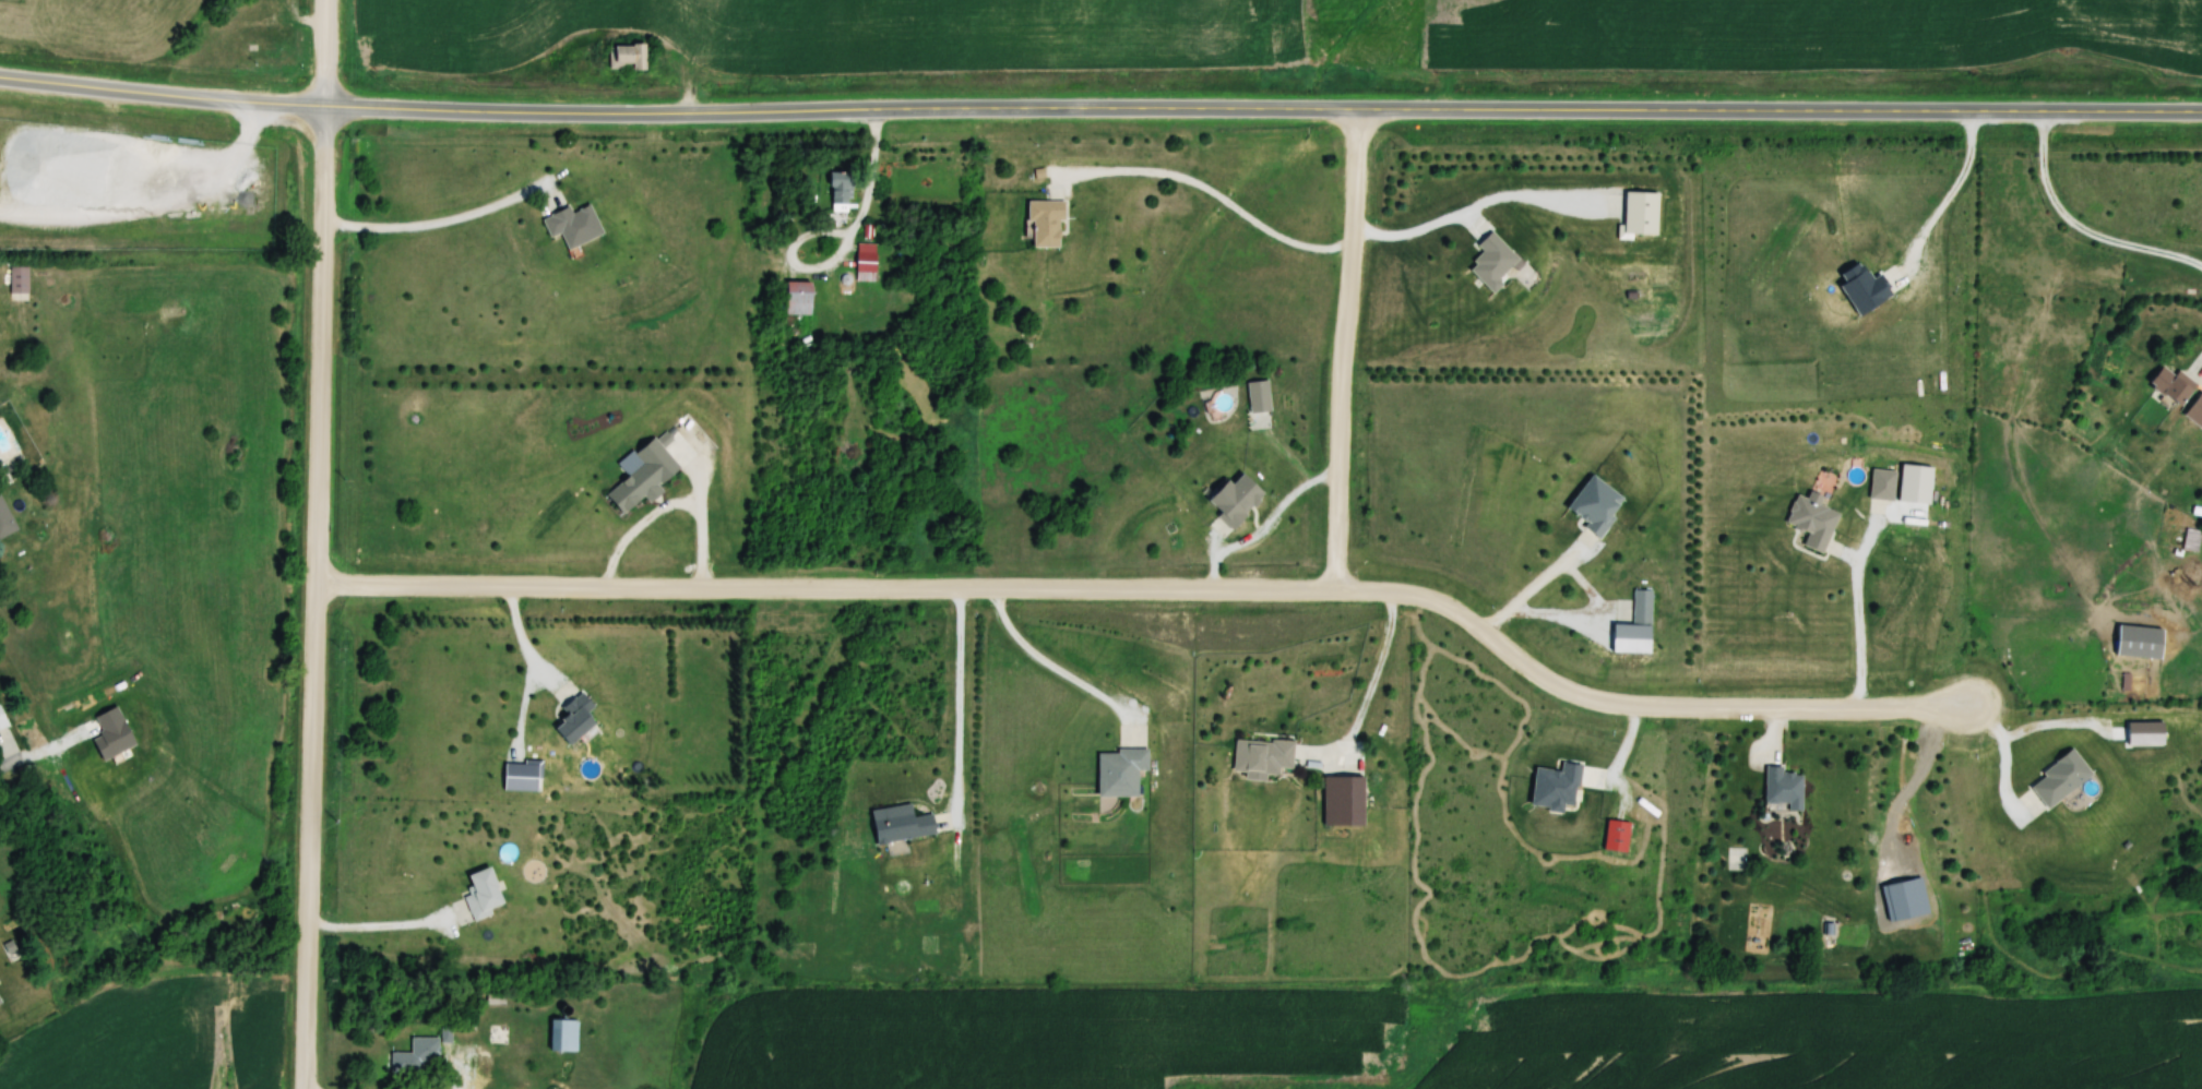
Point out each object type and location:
road: (321, 55)
building: (627, 57)
road: (106, 91)
road: (266, 106)
road: (1261, 108)
road: (321, 190)
building: (840, 191)
road: (1214, 192)
road: (1955, 192)
building: (1044, 223)
road: (431, 224)
building: (572, 225)
road: (2080, 227)
road: (1416, 232)
road: (846, 246)
building: (866, 258)
building: (1491, 262)
building: (19, 283)
building: (796, 298)
road: (1341, 349)
building: (2171, 384)
building: (1259, 405)
building: (2194, 410)
building: (643, 477)
building: (1881, 486)
building: (1234, 499)
building: (1594, 504)
building: (4, 520)
building: (1811, 522)
road: (1267, 527)
building: (2191, 539)
road: (1537, 585)
road: (1158, 589)
road: (316, 621)
road: (1859, 622)
road: (522, 642)
building: (2138, 643)
road: (1058, 670)
road: (1377, 673)
road: (960, 693)
building: (573, 719)
building: (2, 721)
building: (1261, 756)
road: (2007, 757)
road: (10, 763)
building: (1119, 773)
building: (2059, 780)
building: (1782, 789)
building: (1342, 801)
building: (901, 826)
road: (380, 928)
building: (495, 997)
road: (307, 1030)
building: (498, 1034)
building: (562, 1036)
building: (406, 1063)
road: (462, 1081)

